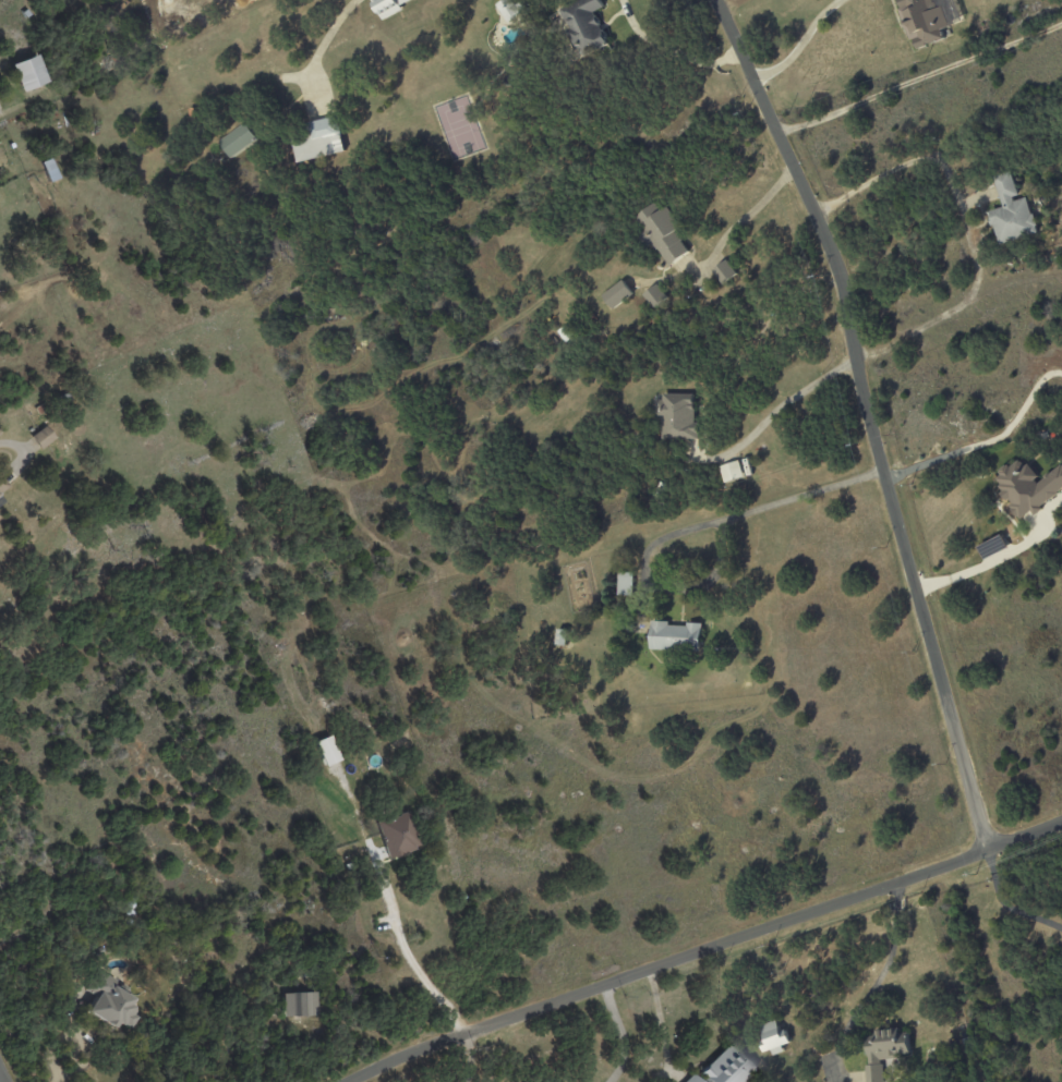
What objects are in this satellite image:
building: (388, 7)
building: (508, 9)
building: (926, 19)
building: (583, 25)
road: (323, 42)
road: (805, 44)
road: (668, 50)
building: (28, 72)
road: (919, 77)
building: (328, 134)
building: (240, 141)
building: (49, 165)
building: (1014, 210)
road: (741, 218)
road: (966, 223)
building: (661, 231)
building: (726, 270)
building: (619, 293)
building: (567, 332)
building: (64, 397)
building: (43, 406)
road: (770, 414)
building: (680, 415)
road: (868, 417)
building: (32, 428)
building: (0, 430)
building: (44, 436)
building: (733, 470)
building: (3, 483)
building: (1027, 486)
building: (662, 490)
building: (1, 499)
road: (686, 528)
road: (997, 557)
road: (933, 582)
building: (628, 583)
building: (564, 636)
building: (677, 636)
building: (538, 715)
building: (328, 750)
building: (398, 834)
road: (1026, 837)
building: (351, 865)
road: (1006, 904)
road: (407, 951)
road: (672, 961)
road: (873, 983)
building: (111, 1000)
building: (302, 1004)
road: (620, 1034)
building: (776, 1038)
building: (888, 1051)
road: (470, 1057)
building: (731, 1067)
road: (2, 1074)
building: (693, 1079)

